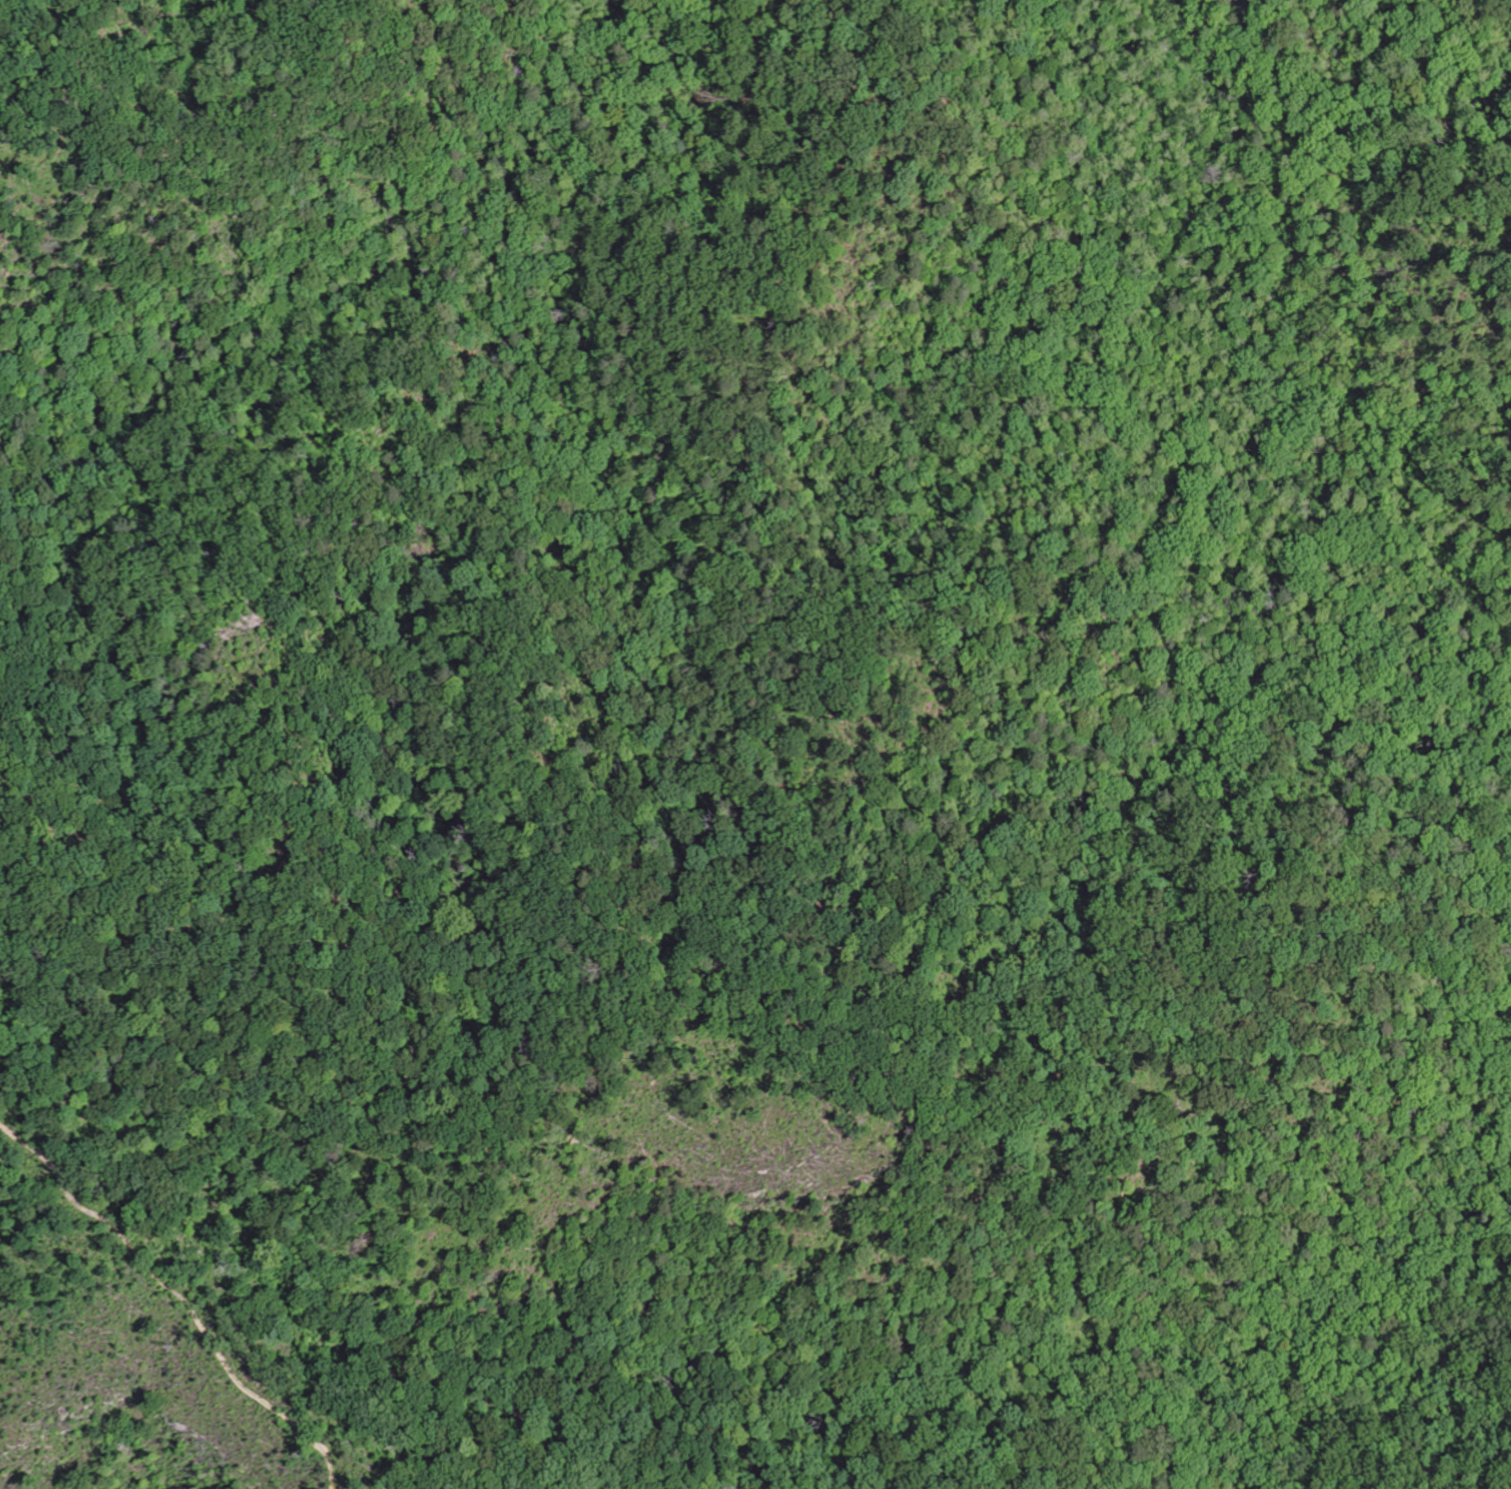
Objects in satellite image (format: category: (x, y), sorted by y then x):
road: (139, 1360)

